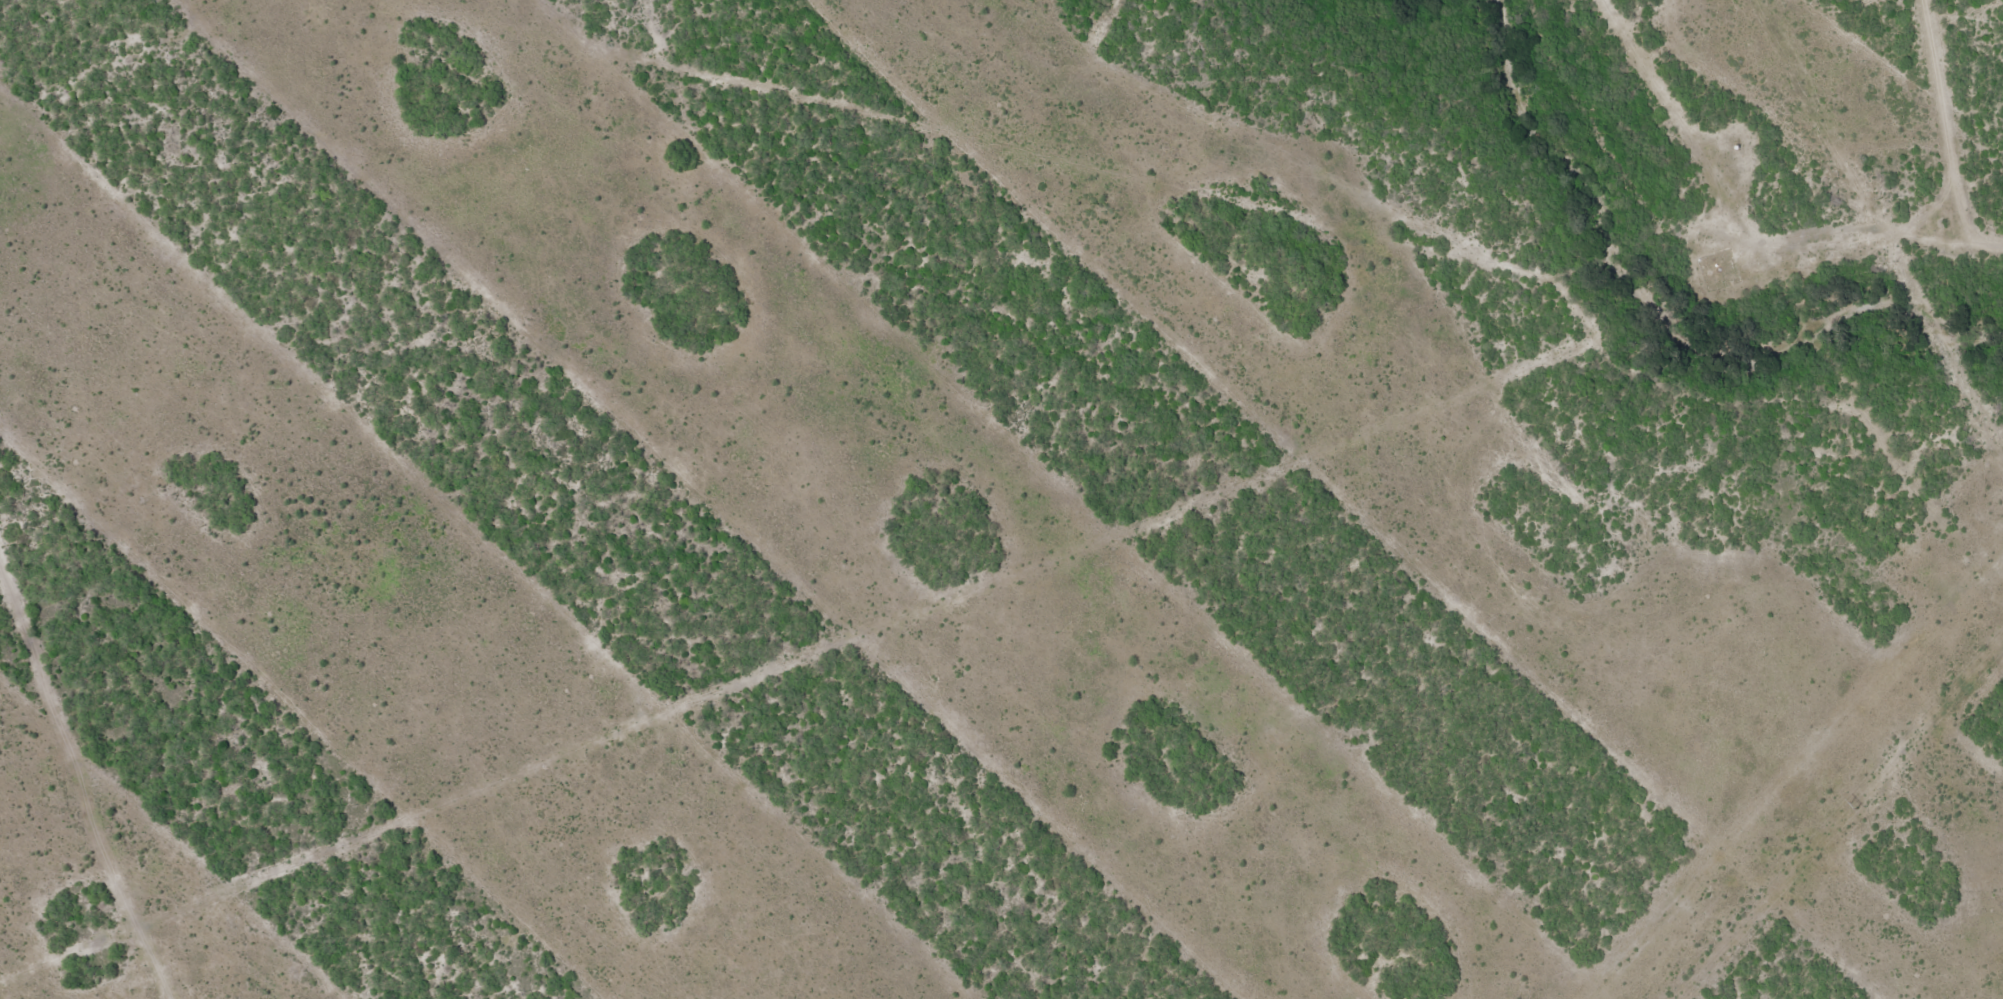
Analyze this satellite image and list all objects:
power tower: (1851, 806)

